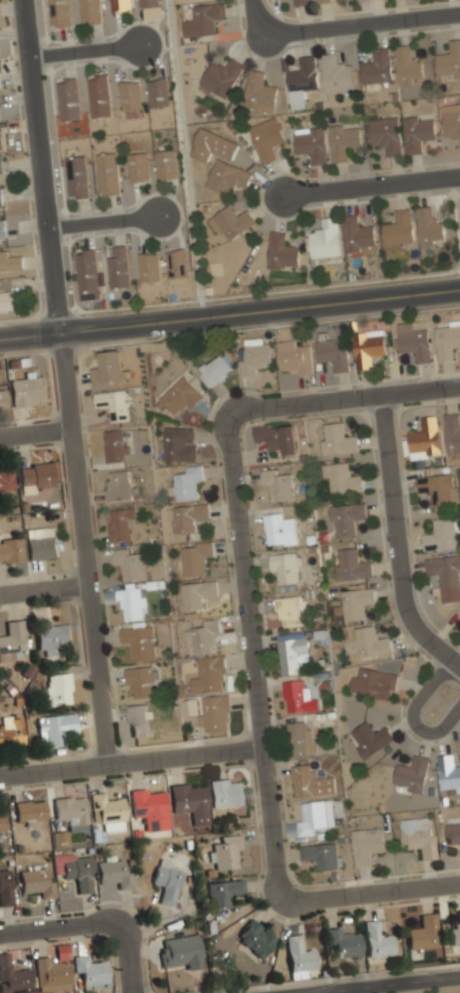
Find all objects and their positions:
building: (322, 1)
building: (300, 2)
building: (147, 3)
building: (119, 5)
building: (89, 11)
building: (58, 13)
road: (259, 18)
building: (202, 20)
road: (361, 25)
road: (84, 51)
building: (449, 59)
building: (377, 67)
building: (408, 67)
building: (1, 68)
building: (335, 75)
building: (0, 79)
building: (220, 79)
building: (302, 79)
building: (158, 92)
building: (259, 93)
building: (98, 95)
building: (130, 95)
building: (67, 99)
building: (451, 121)
building: (417, 134)
building: (385, 136)
building: (266, 138)
building: (0, 140)
building: (343, 142)
building: (212, 144)
building: (311, 145)
building: (166, 163)
building: (1, 165)
road: (46, 165)
building: (138, 168)
building: (107, 174)
building: (227, 176)
building: (76, 177)
road: (370, 187)
building: (1, 196)
road: (106, 220)
building: (231, 221)
building: (2, 228)
building: (429, 228)
building: (399, 229)
building: (357, 237)
building: (324, 240)
building: (281, 252)
building: (9, 260)
building: (177, 265)
building: (118, 268)
building: (148, 268)
building: (86, 274)
building: (8, 300)
road: (230, 312)
building: (447, 341)
building: (414, 342)
building: (367, 348)
building: (333, 353)
building: (255, 355)
building: (294, 357)
building: (107, 369)
building: (215, 369)
building: (28, 390)
building: (179, 396)
road: (345, 397)
building: (2, 399)
building: (112, 403)
road: (37, 432)
building: (452, 433)
building: (278, 437)
building: (337, 440)
building: (425, 440)
building: (178, 443)
building: (115, 445)
building: (37, 475)
building: (5, 477)
building: (340, 479)
building: (186, 482)
building: (277, 484)
building: (118, 487)
building: (437, 488)
building: (188, 516)
building: (345, 519)
building: (121, 524)
building: (279, 529)
building: (440, 535)
road: (398, 537)
building: (40, 542)
road: (86, 548)
building: (10, 549)
building: (193, 557)
building: (129, 563)
building: (350, 565)
building: (285, 566)
building: (446, 576)
road: (45, 591)
building: (197, 593)
building: (129, 602)
building: (354, 603)
building: (289, 610)
building: (53, 636)
building: (203, 636)
building: (11, 640)
building: (139, 642)
building: (371, 642)
building: (291, 654)
road: (252, 659)
building: (211, 672)
building: (140, 680)
building: (373, 682)
building: (57, 688)
road: (444, 692)
building: (297, 697)
building: (214, 713)
building: (138, 720)
building: (53, 727)
building: (10, 729)
building: (300, 739)
building: (369, 739)
road: (130, 763)
building: (448, 774)
building: (412, 775)
building: (311, 781)
building: (227, 793)
building: (189, 801)
building: (149, 806)
building: (70, 810)
building: (29, 811)
building: (108, 811)
building: (313, 818)
building: (1, 821)
building: (452, 833)
building: (417, 837)
building: (59, 838)
building: (366, 845)
building: (225, 852)
building: (320, 856)
building: (77, 871)
building: (113, 873)
building: (166, 882)
building: (35, 883)
building: (5, 887)
road: (374, 890)
building: (223, 892)
road: (96, 923)
building: (423, 933)
building: (455, 934)
building: (255, 937)
building: (376, 940)
building: (342, 941)
building: (179, 951)
building: (62, 952)
building: (298, 957)
building: (90, 972)
building: (51, 974)
building: (13, 977)
road: (388, 985)

